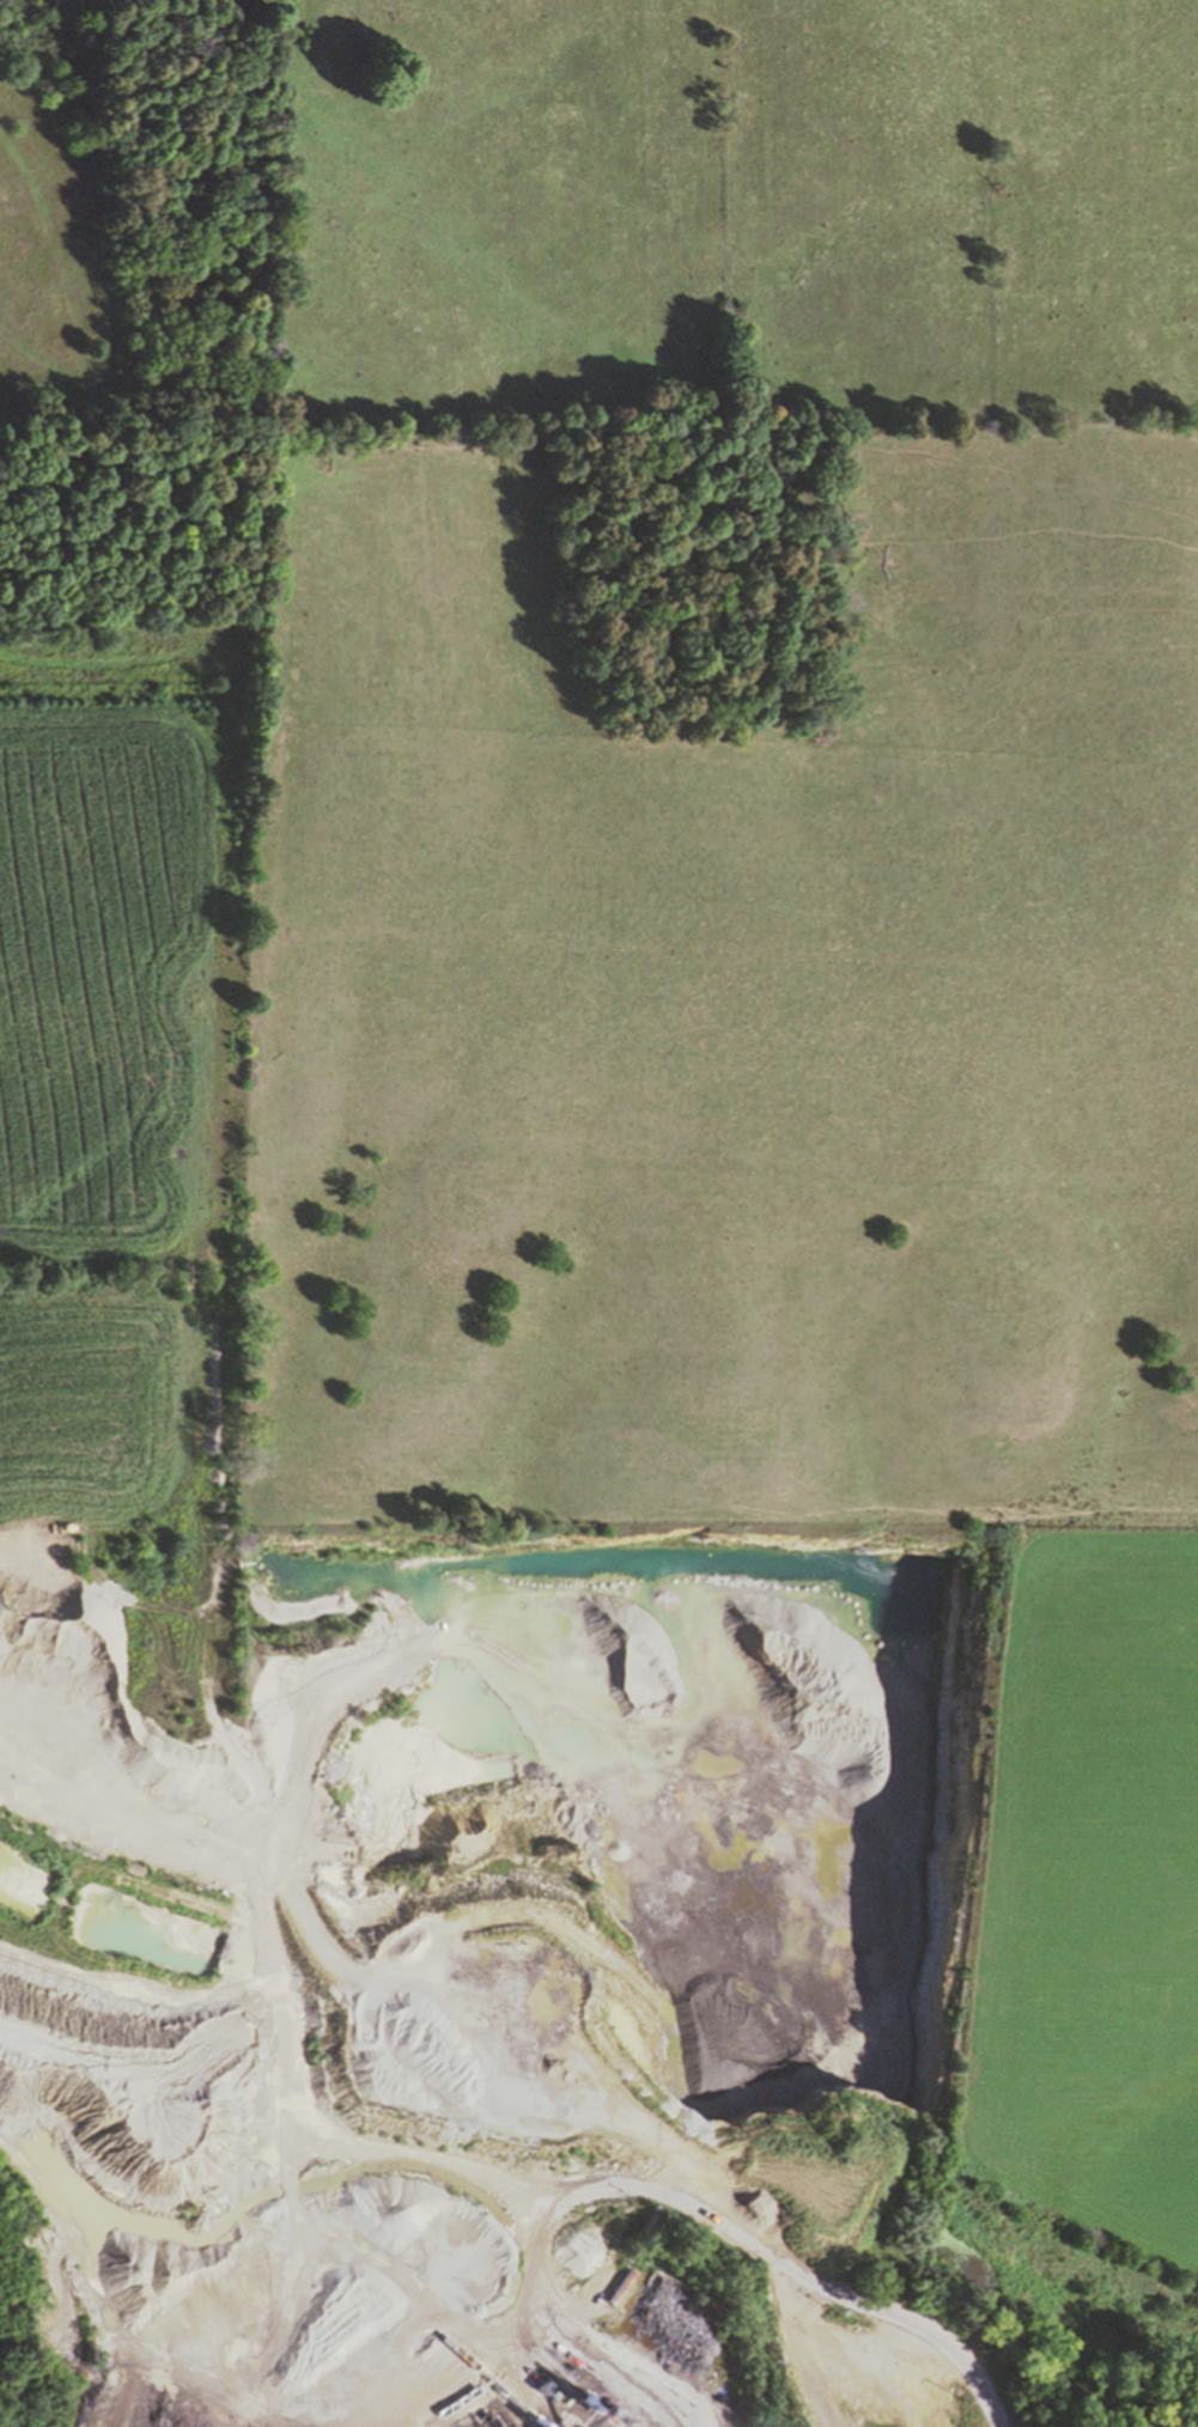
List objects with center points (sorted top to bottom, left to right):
quarry: (561, 2005)
road: (749, 2240)

